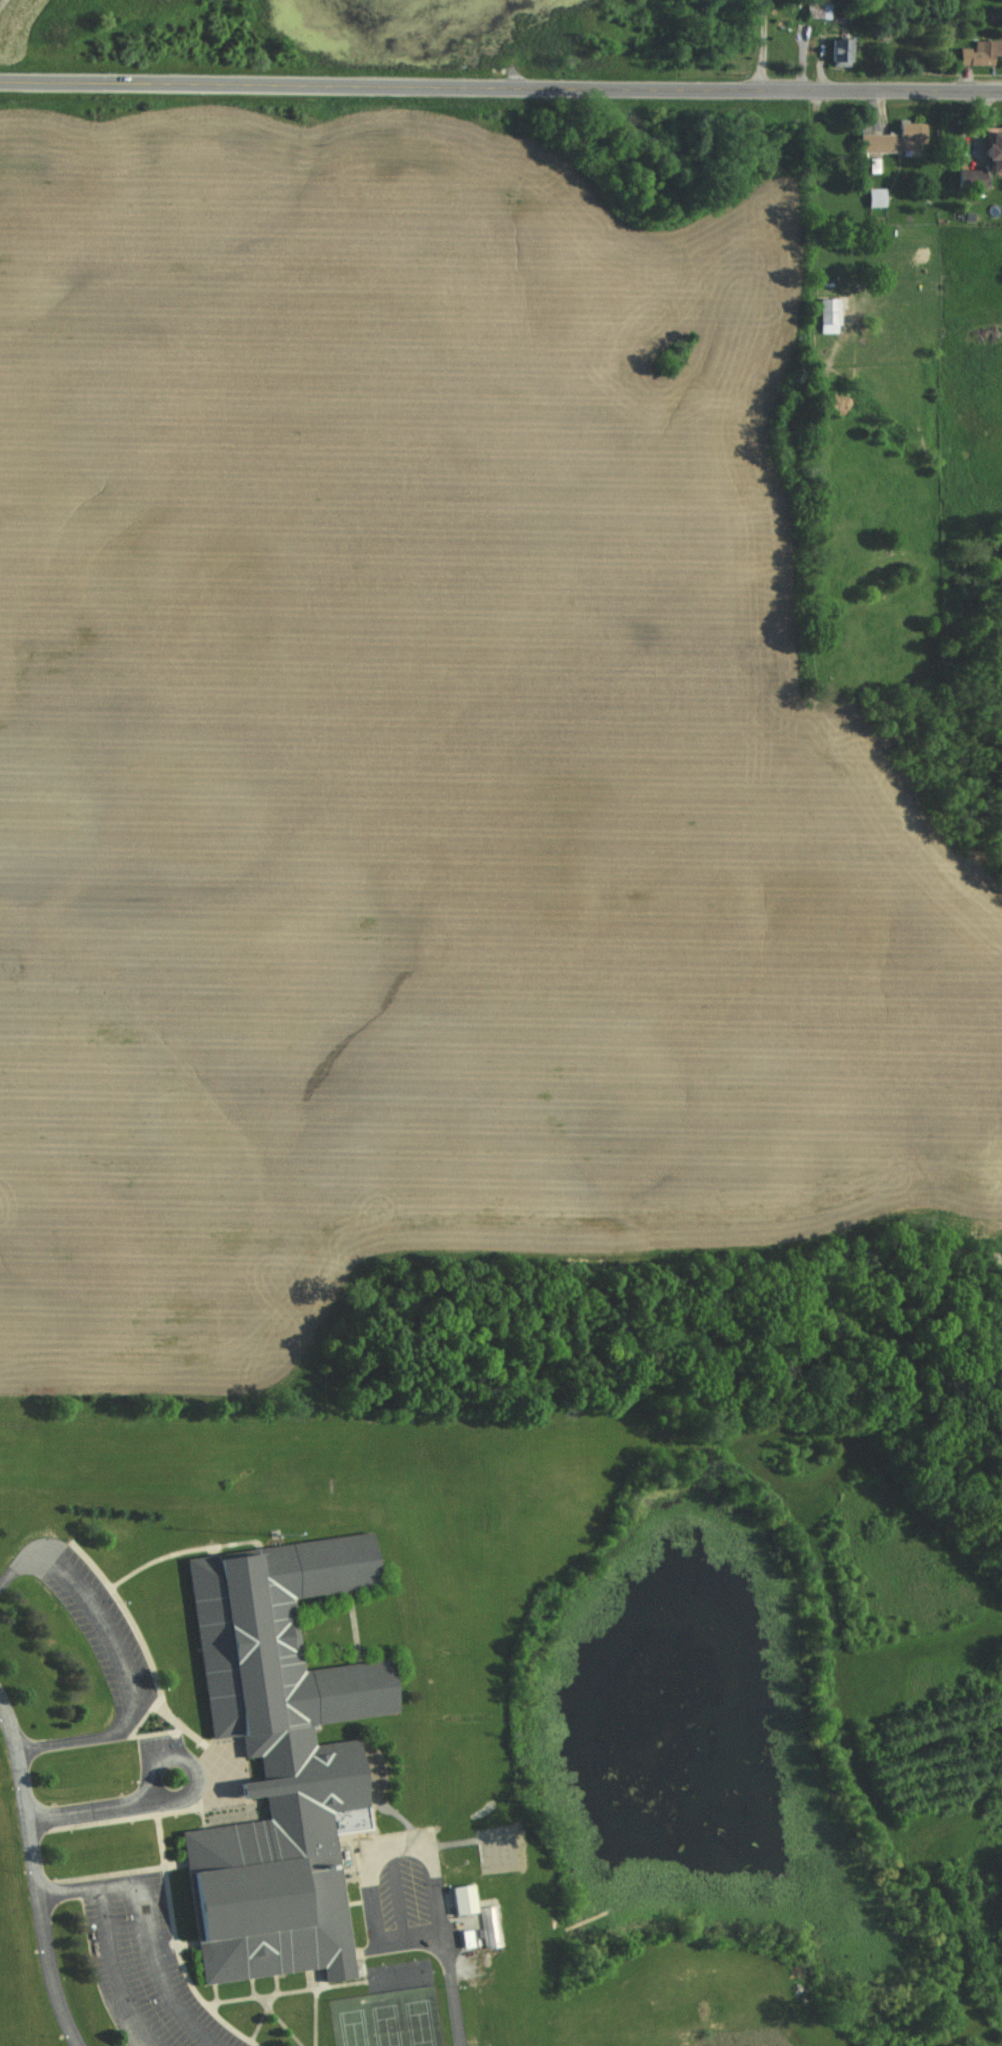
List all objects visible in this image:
road: (1, 1)
building: (818, 11)
road: (765, 44)
building: (839, 53)
building: (980, 53)
road: (307, 82)
road: (807, 88)
building: (894, 140)
building: (993, 153)
building: (968, 179)
building: (877, 197)
building: (830, 316)
road: (121, 1656)
building: (277, 1761)
road: (24, 1794)
road: (174, 1801)
building: (463, 1899)
road: (146, 1922)
building: (492, 1937)
road: (49, 1971)
road: (113, 1971)
road: (453, 1987)
park: (387, 2017)

